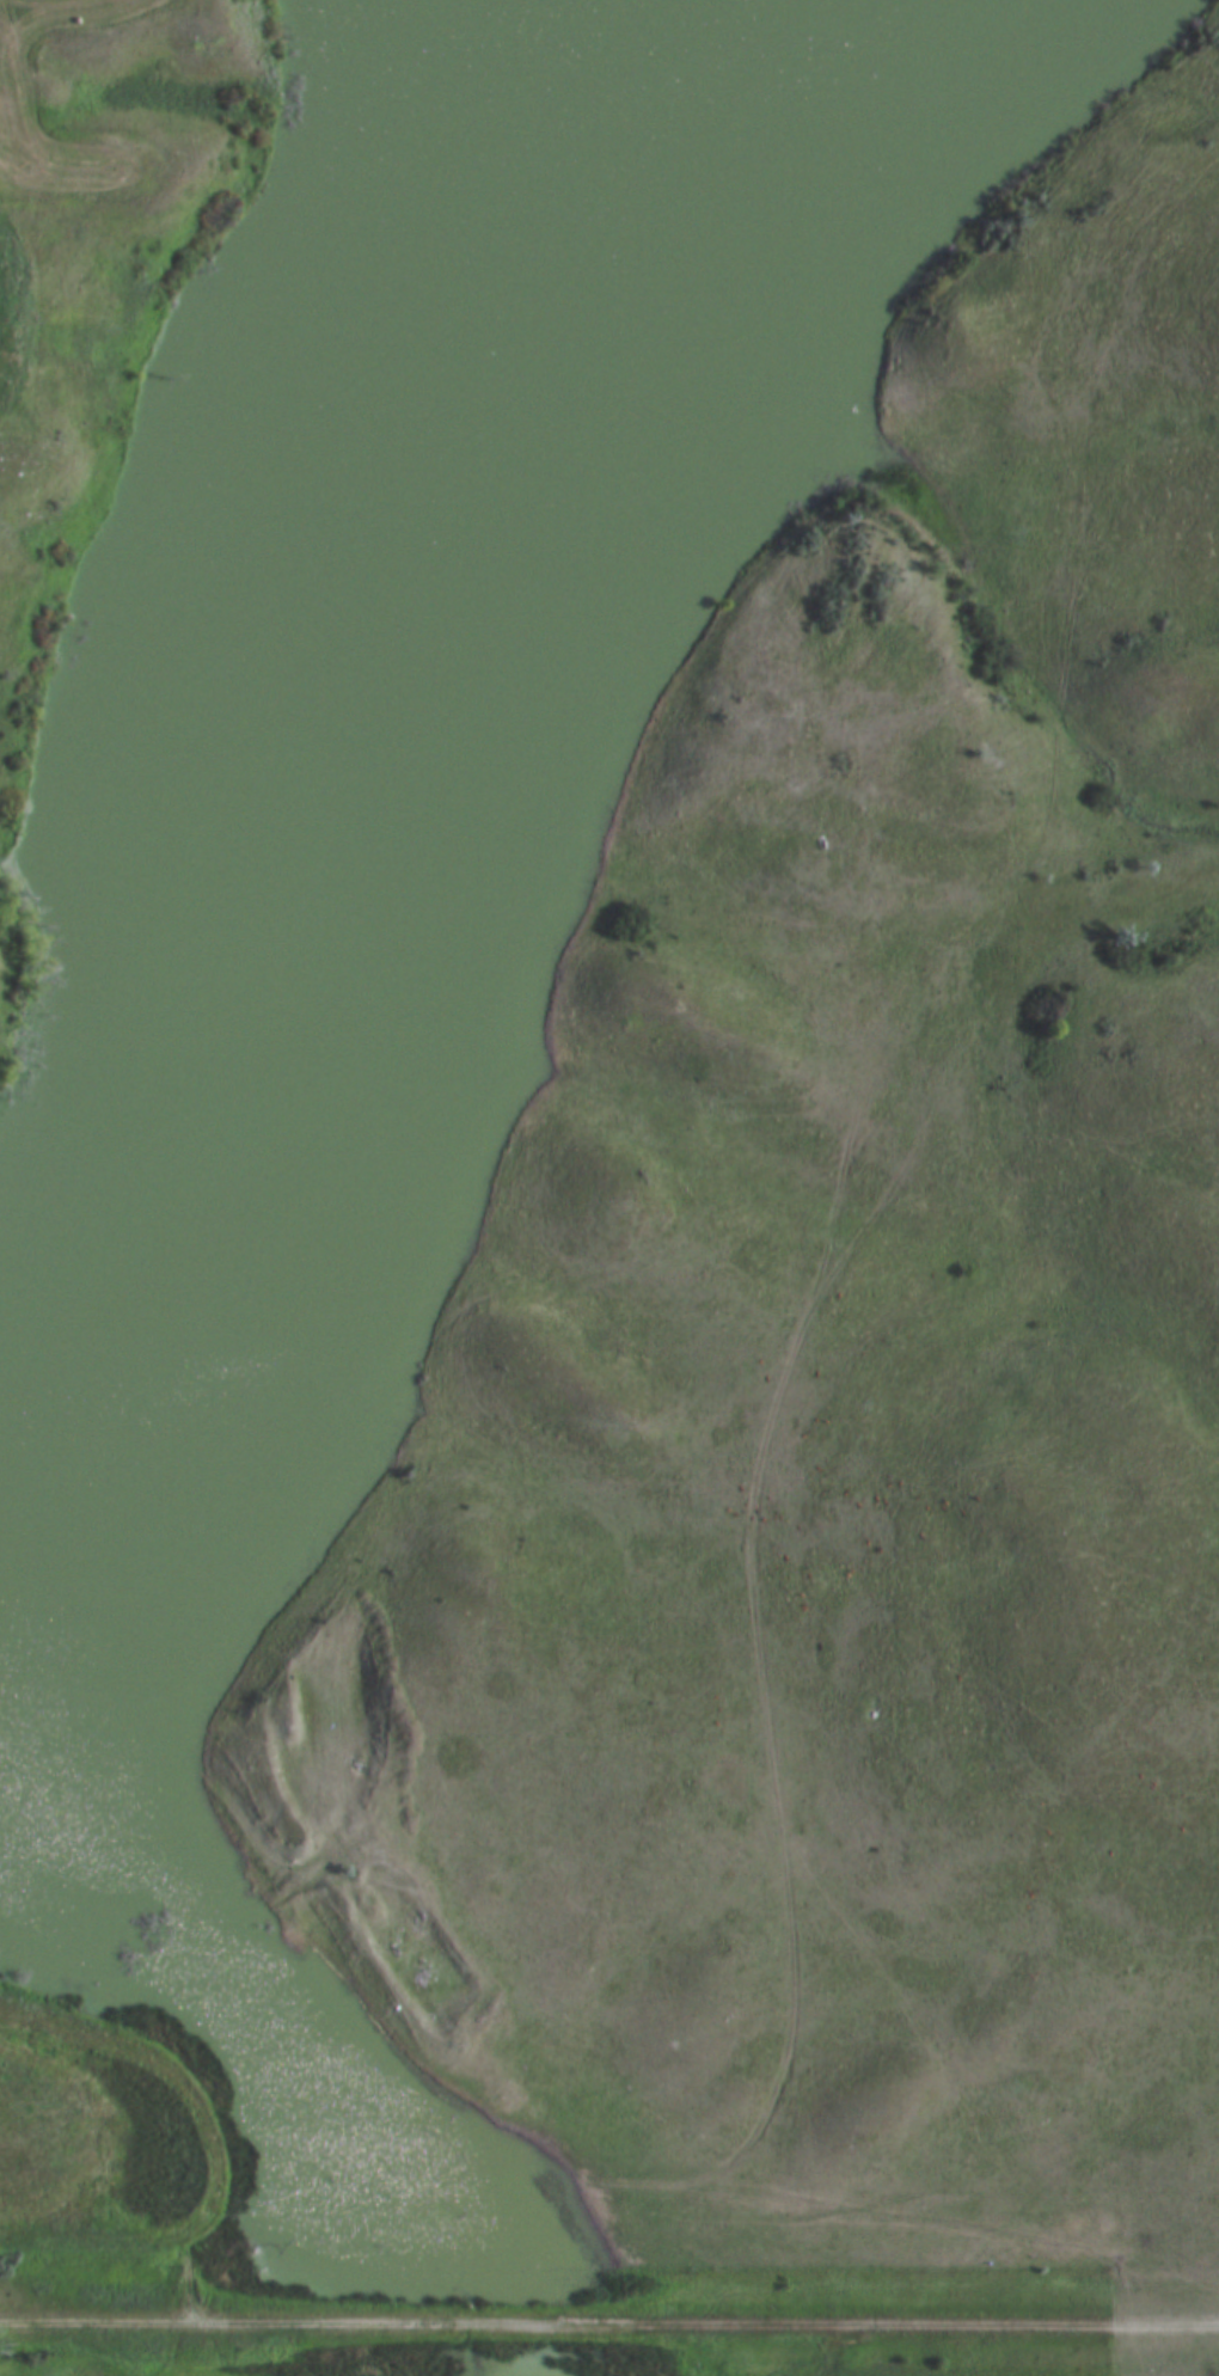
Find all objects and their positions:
road: (609, 2322)

